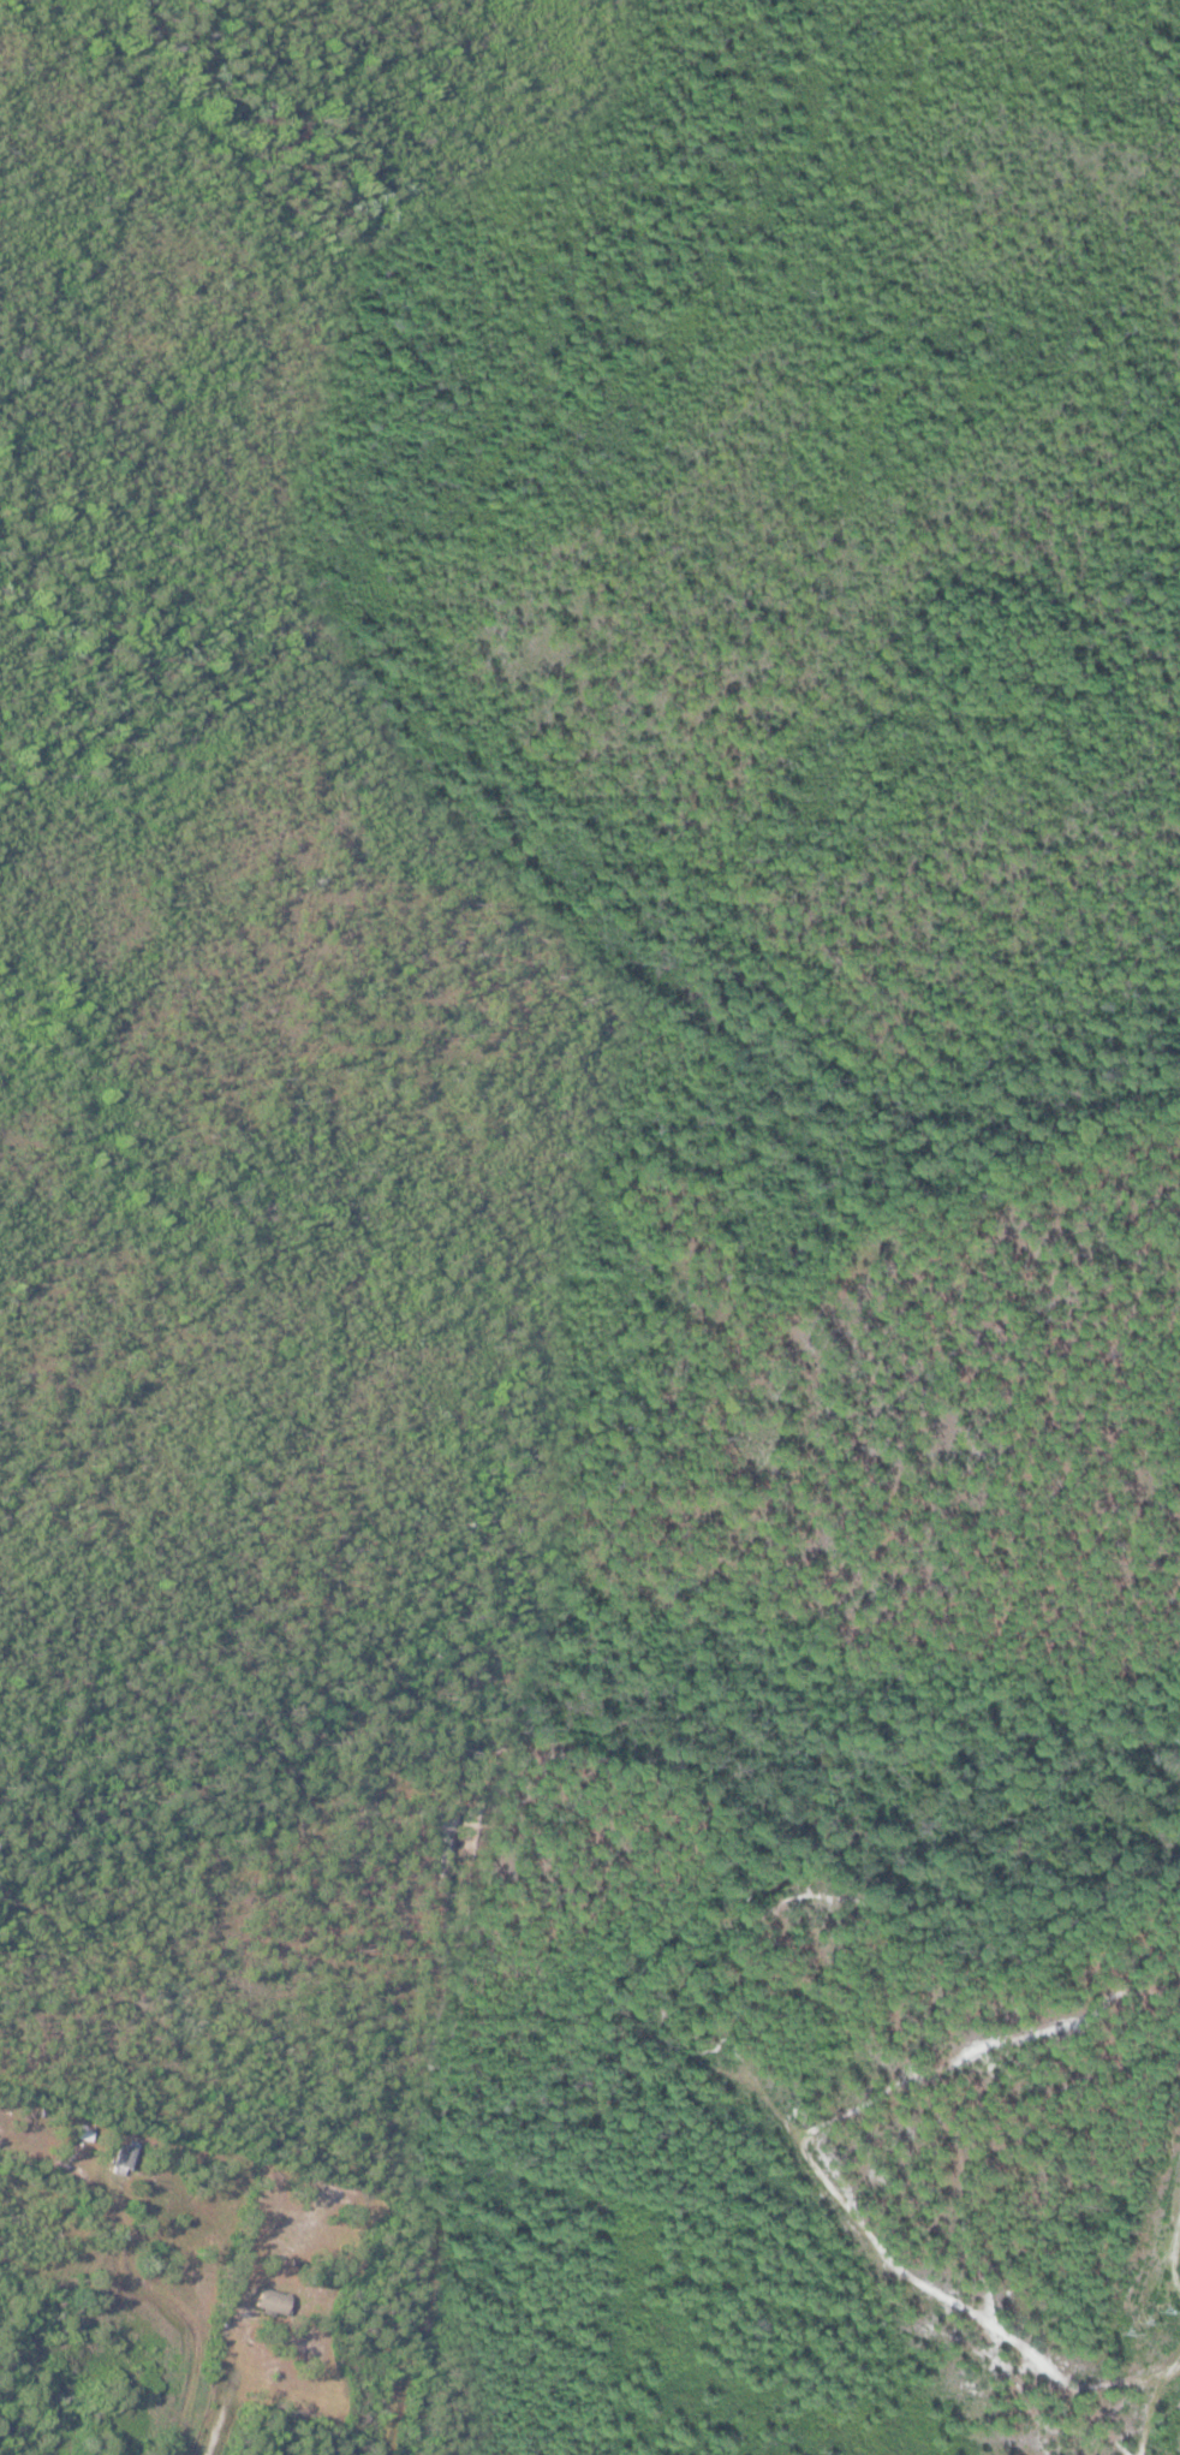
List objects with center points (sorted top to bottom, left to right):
building: (84, 2134)
building: (123, 2160)
building: (269, 2301)
power tower: (1161, 2318)

